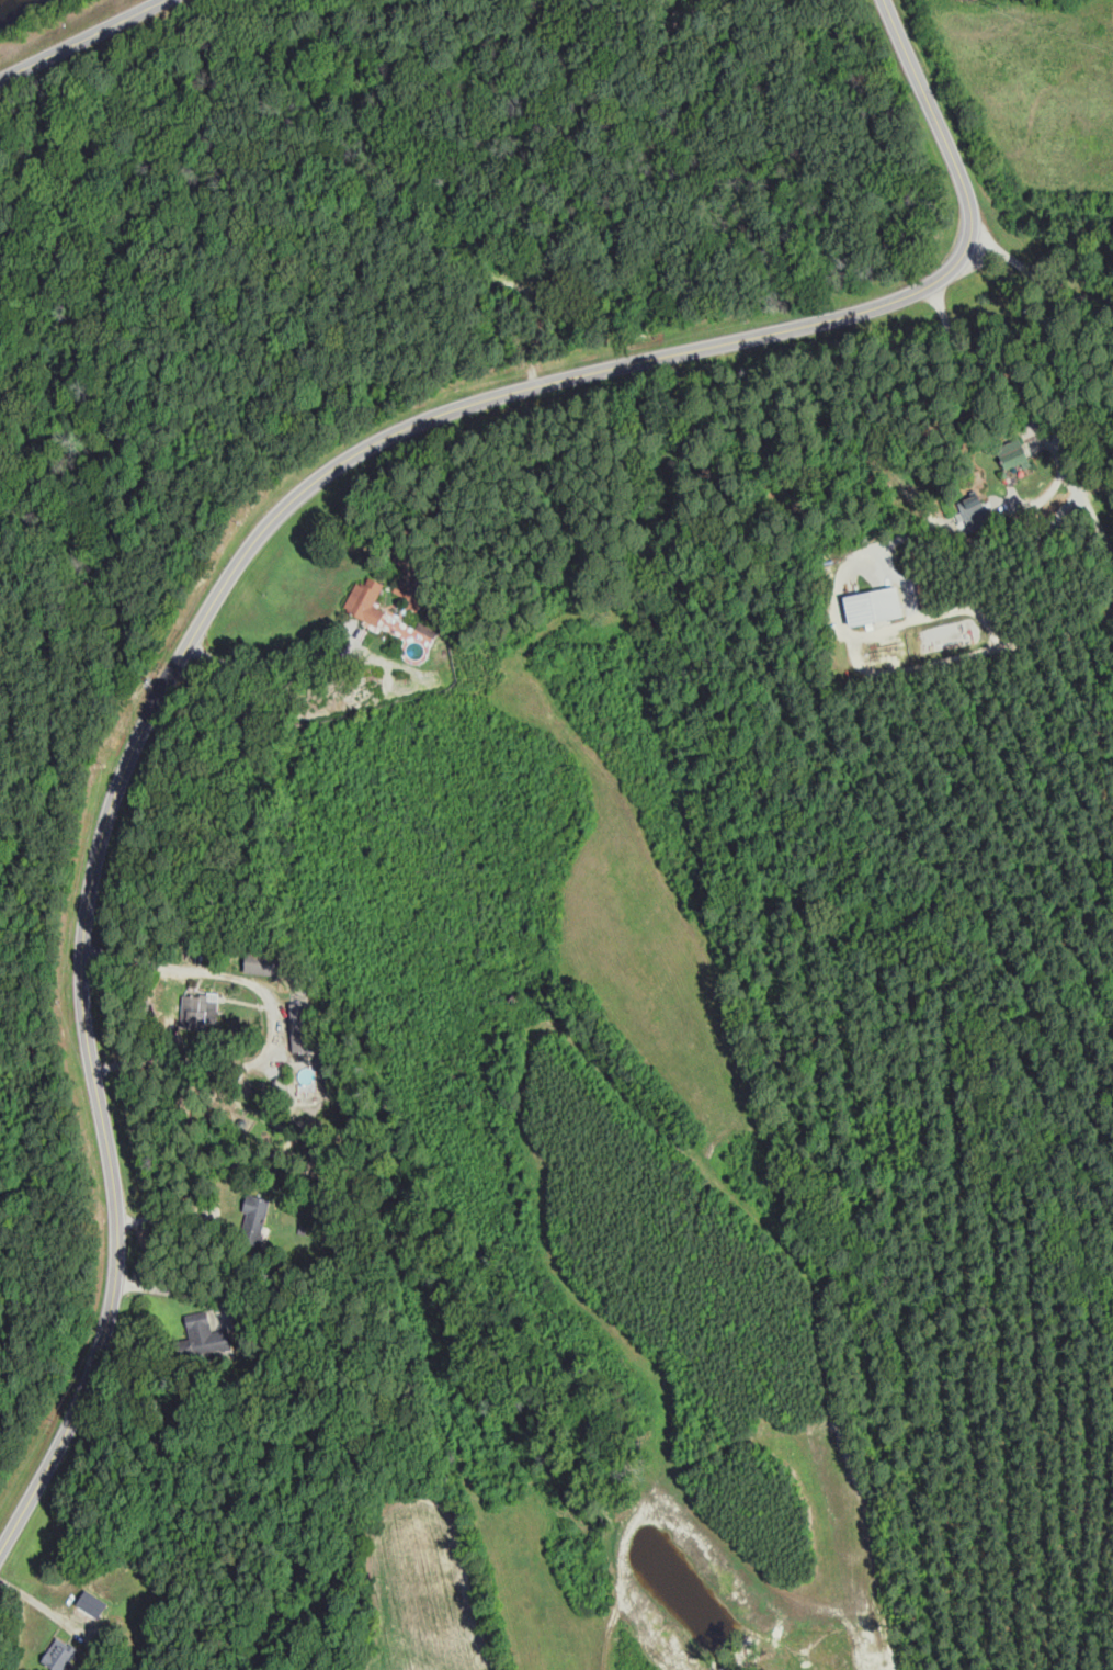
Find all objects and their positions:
road: (82, 40)
road: (1036, 277)
road: (1034, 404)
building: (1017, 460)
road: (246, 553)
building: (395, 597)
building: (876, 605)
road: (269, 662)
road: (899, 670)
building: (264, 963)
building: (201, 1009)
road: (279, 1018)
building: (303, 1027)
building: (306, 1076)
building: (257, 1217)
road: (169, 1218)
road: (175, 1291)
building: (208, 1338)
building: (60, 1658)

